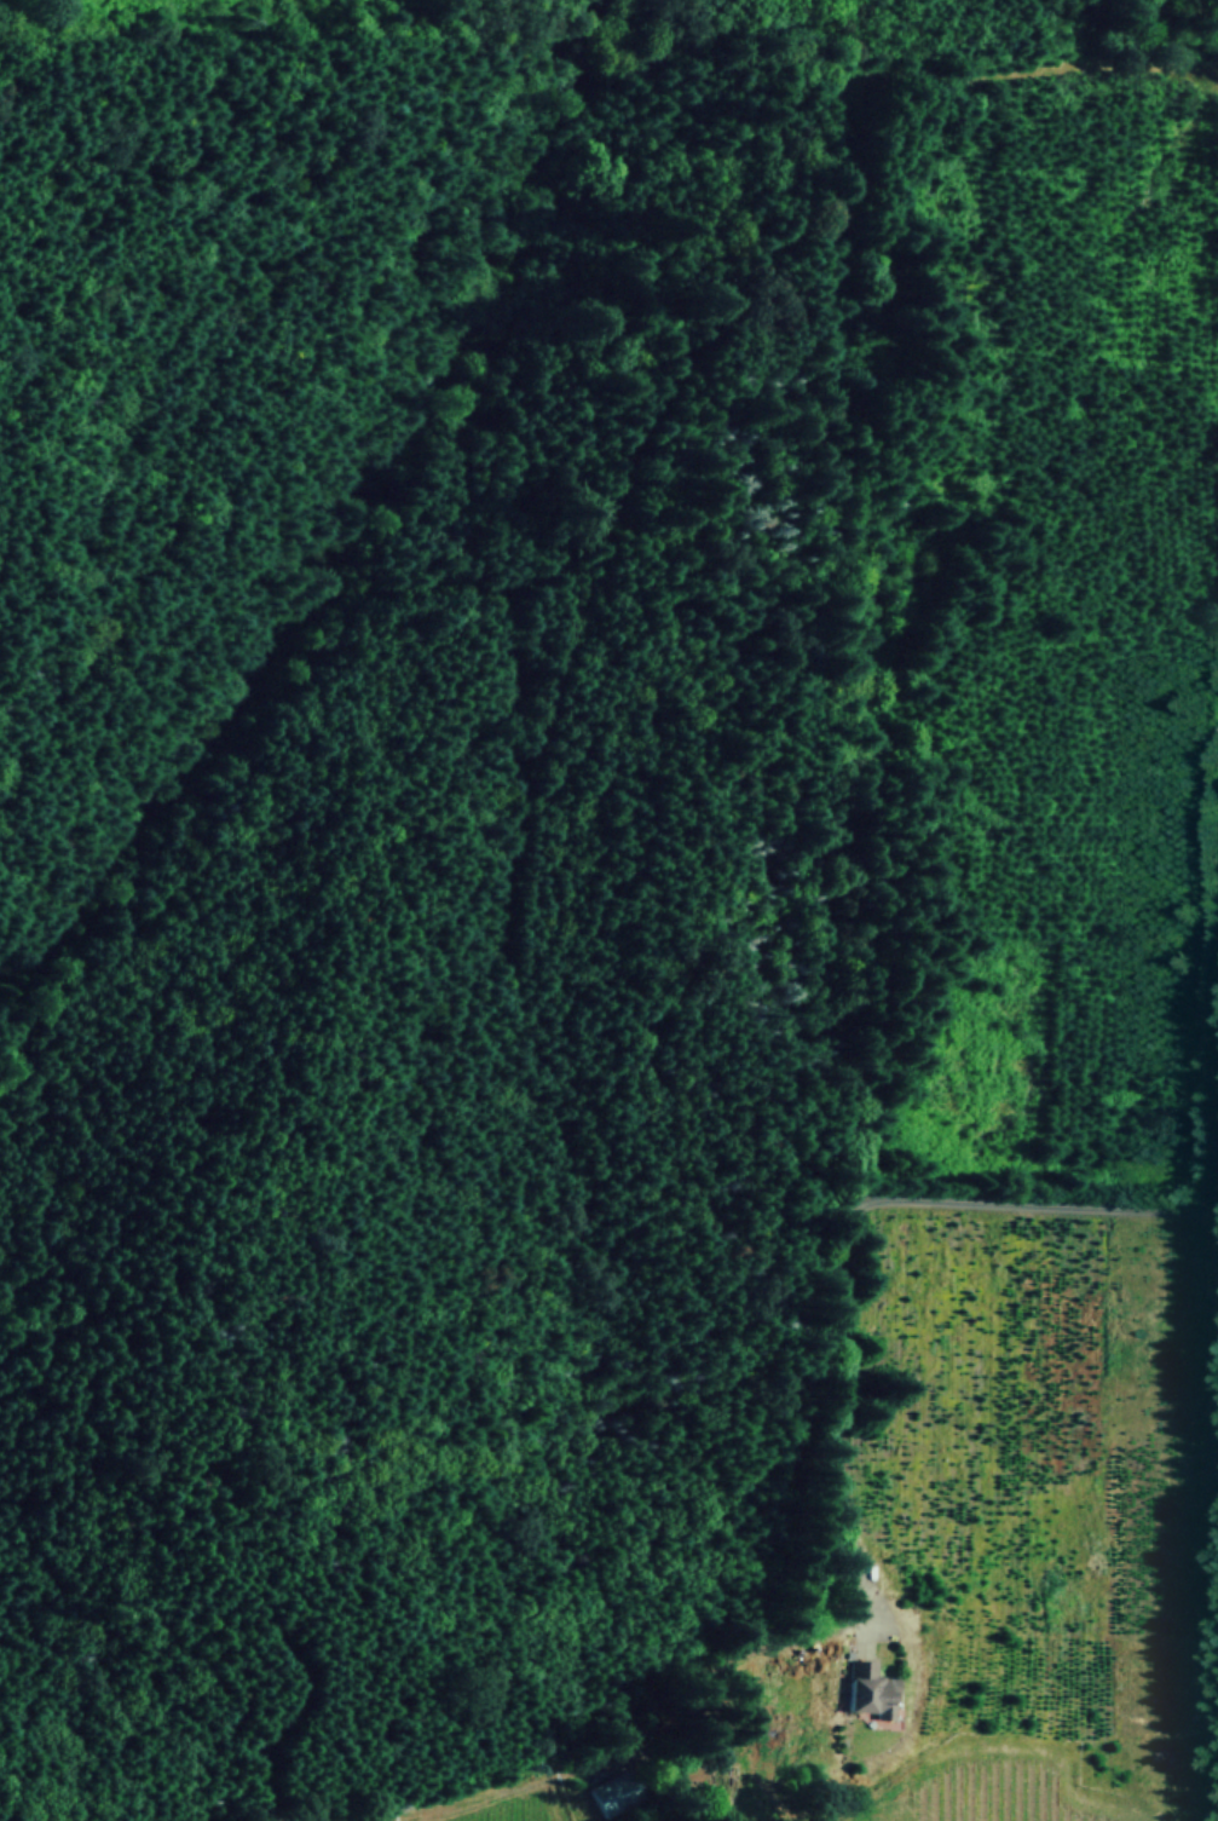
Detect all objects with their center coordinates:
road: (837, 1503)
road: (267, 1815)

